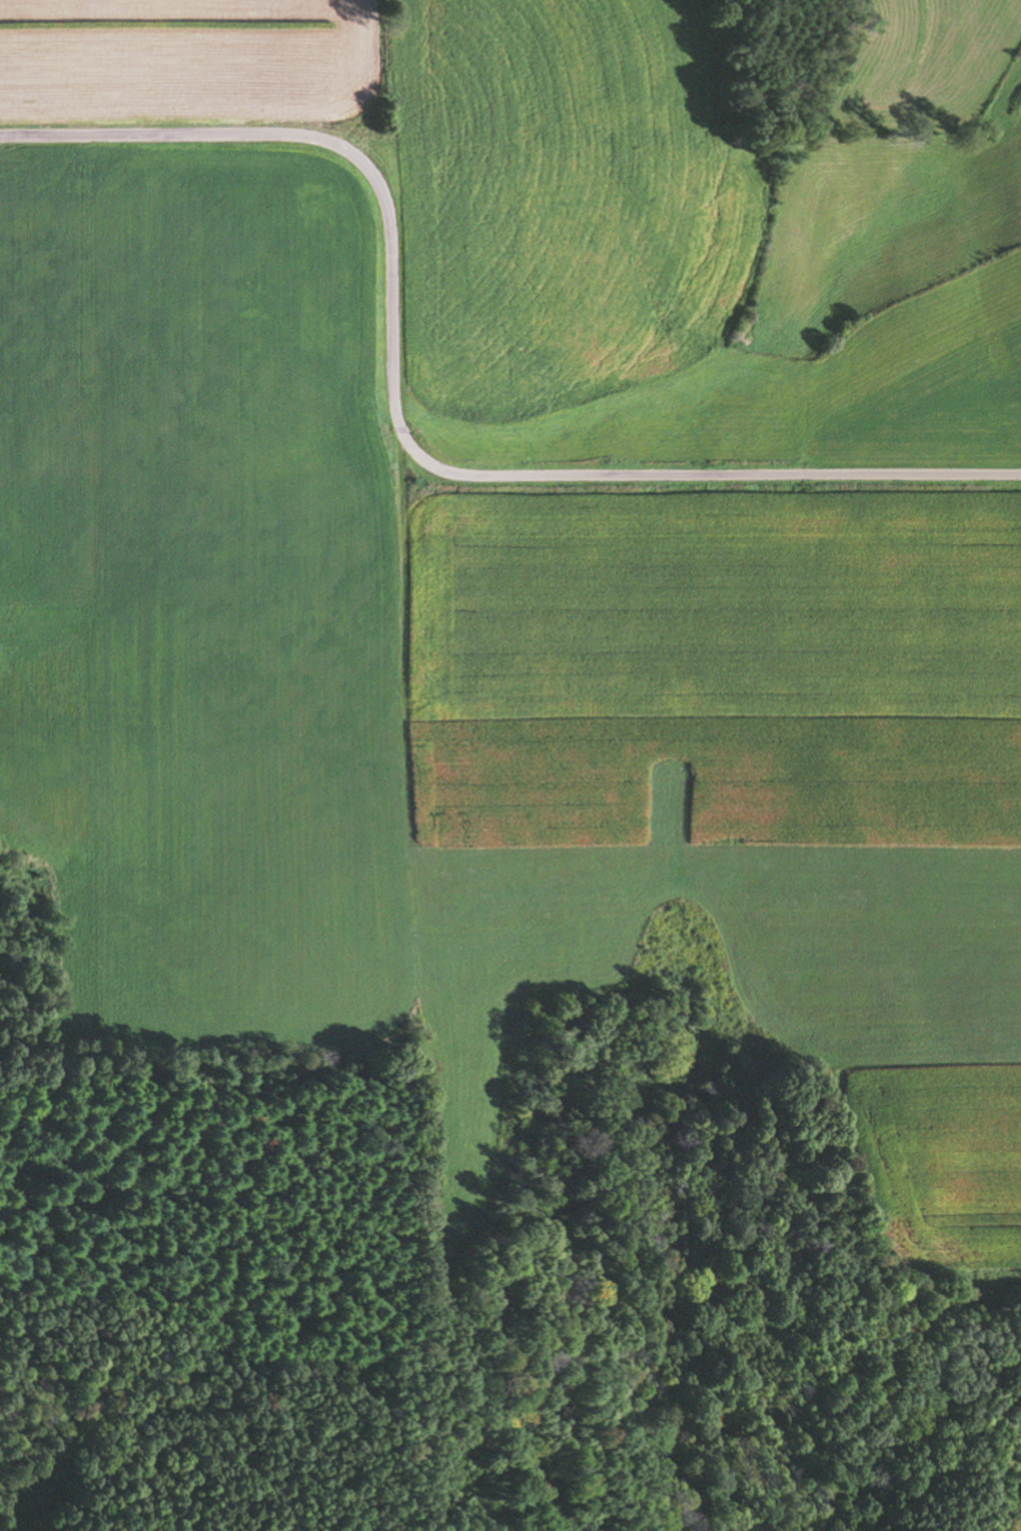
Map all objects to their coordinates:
road: (395, 428)

